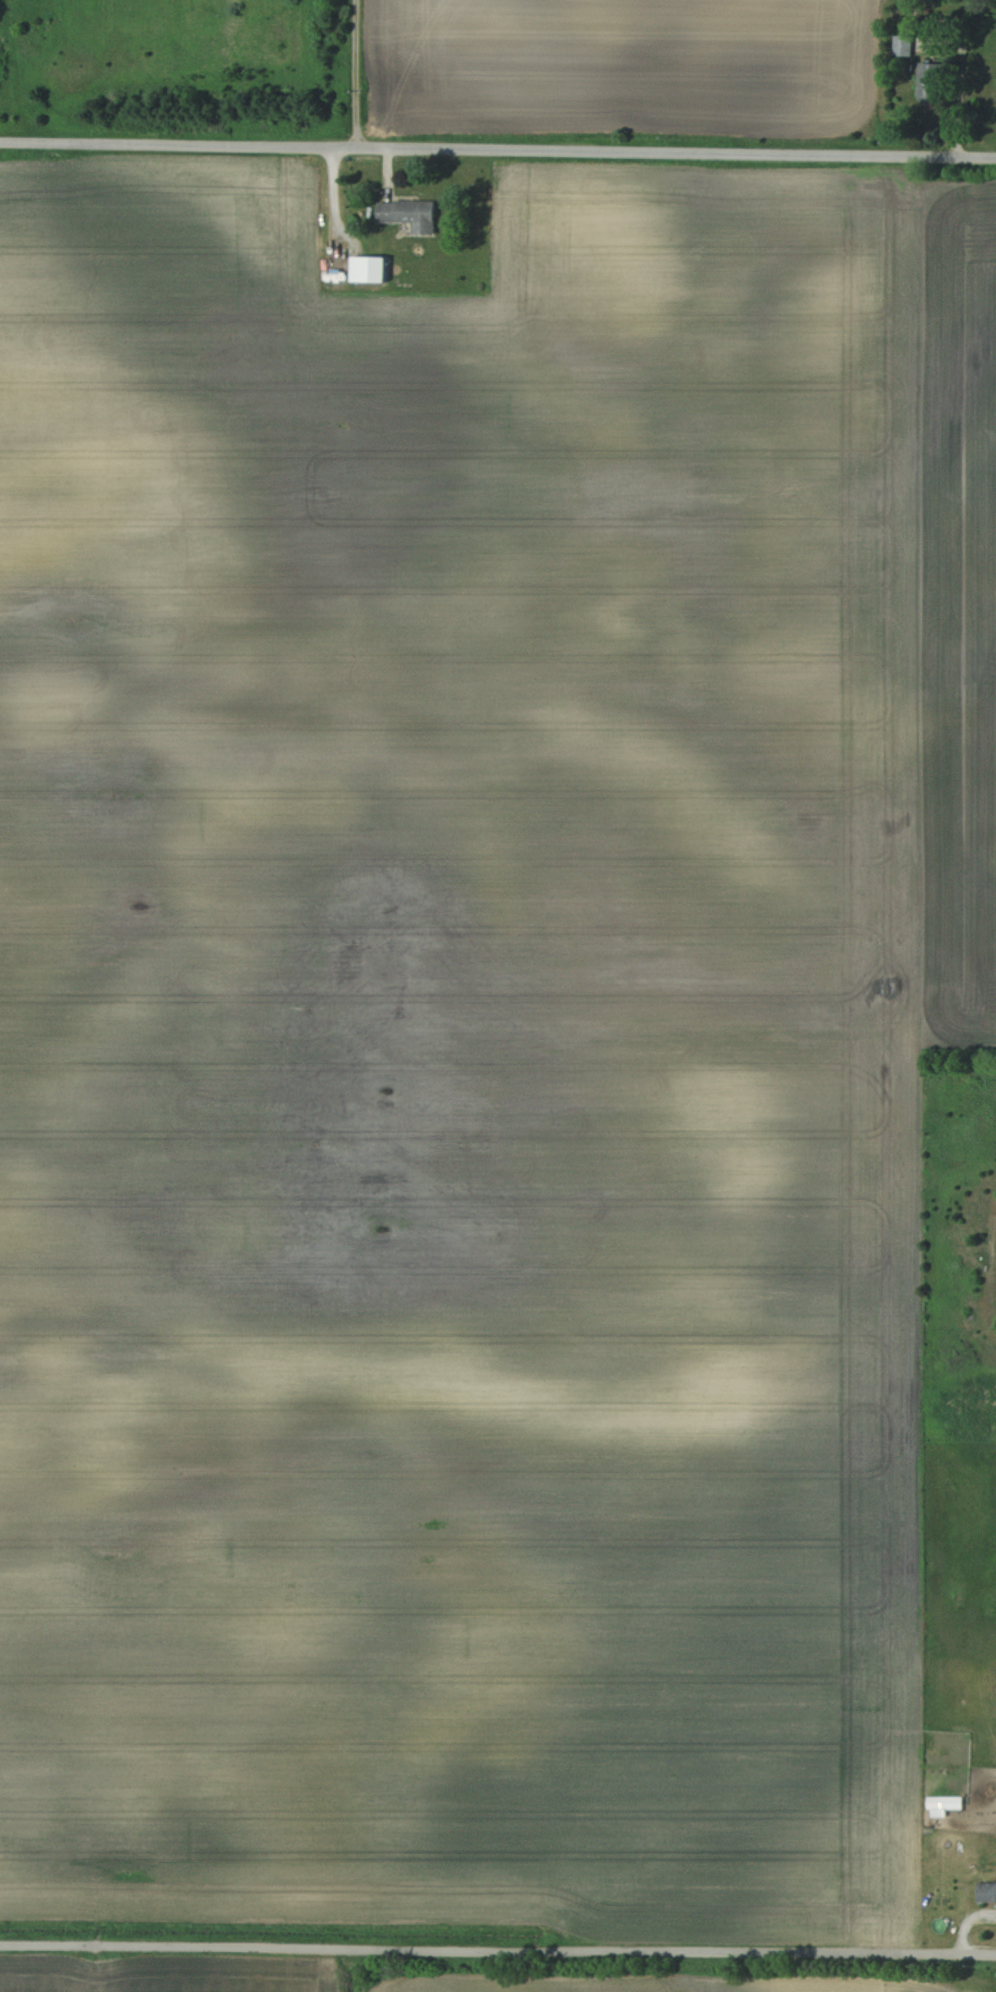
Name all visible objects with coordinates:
building: (900, 46)
building: (925, 82)
road: (498, 142)
building: (406, 214)
building: (364, 269)
building: (942, 1803)
building: (985, 1891)
road: (497, 1949)

